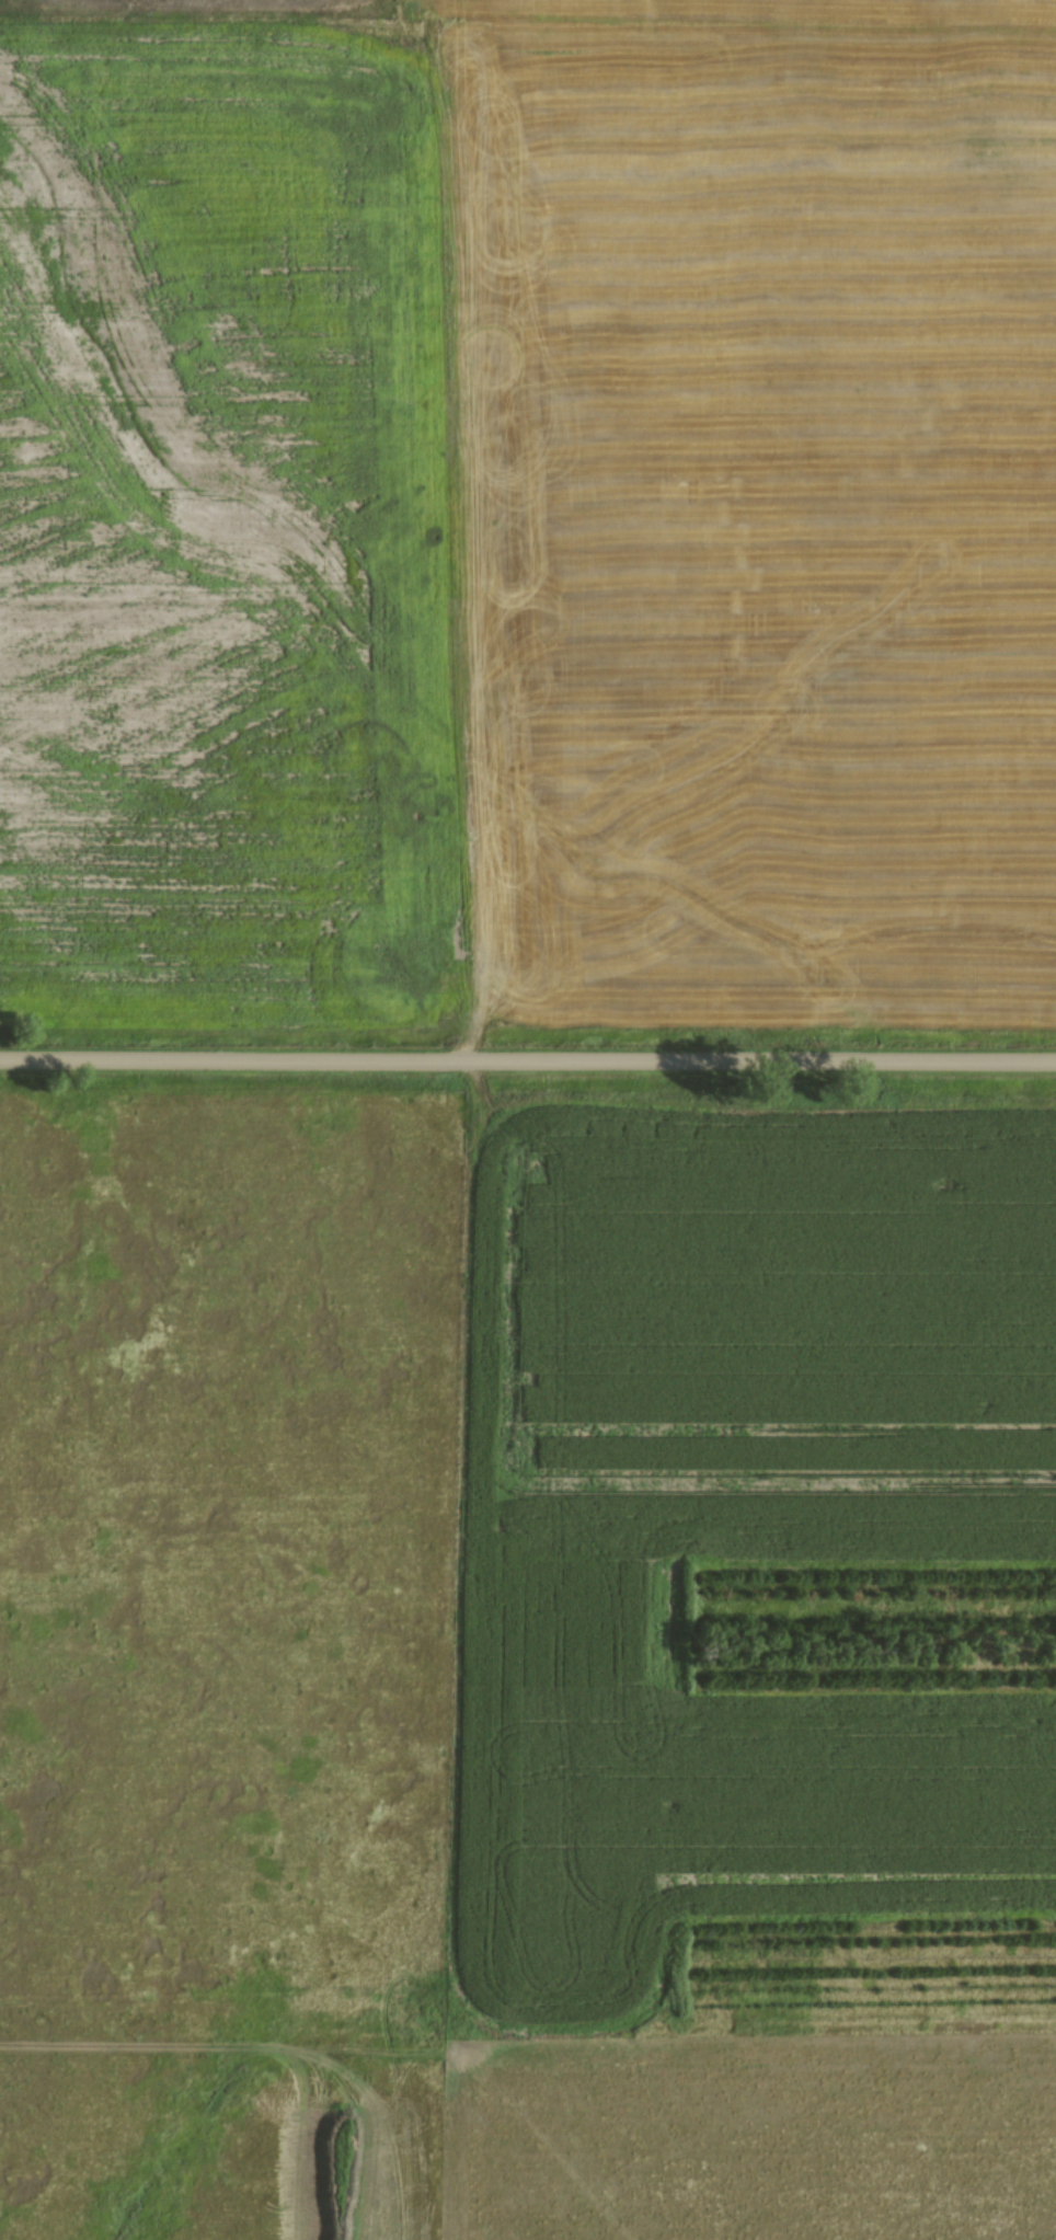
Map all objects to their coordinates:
road: (528, 1058)

